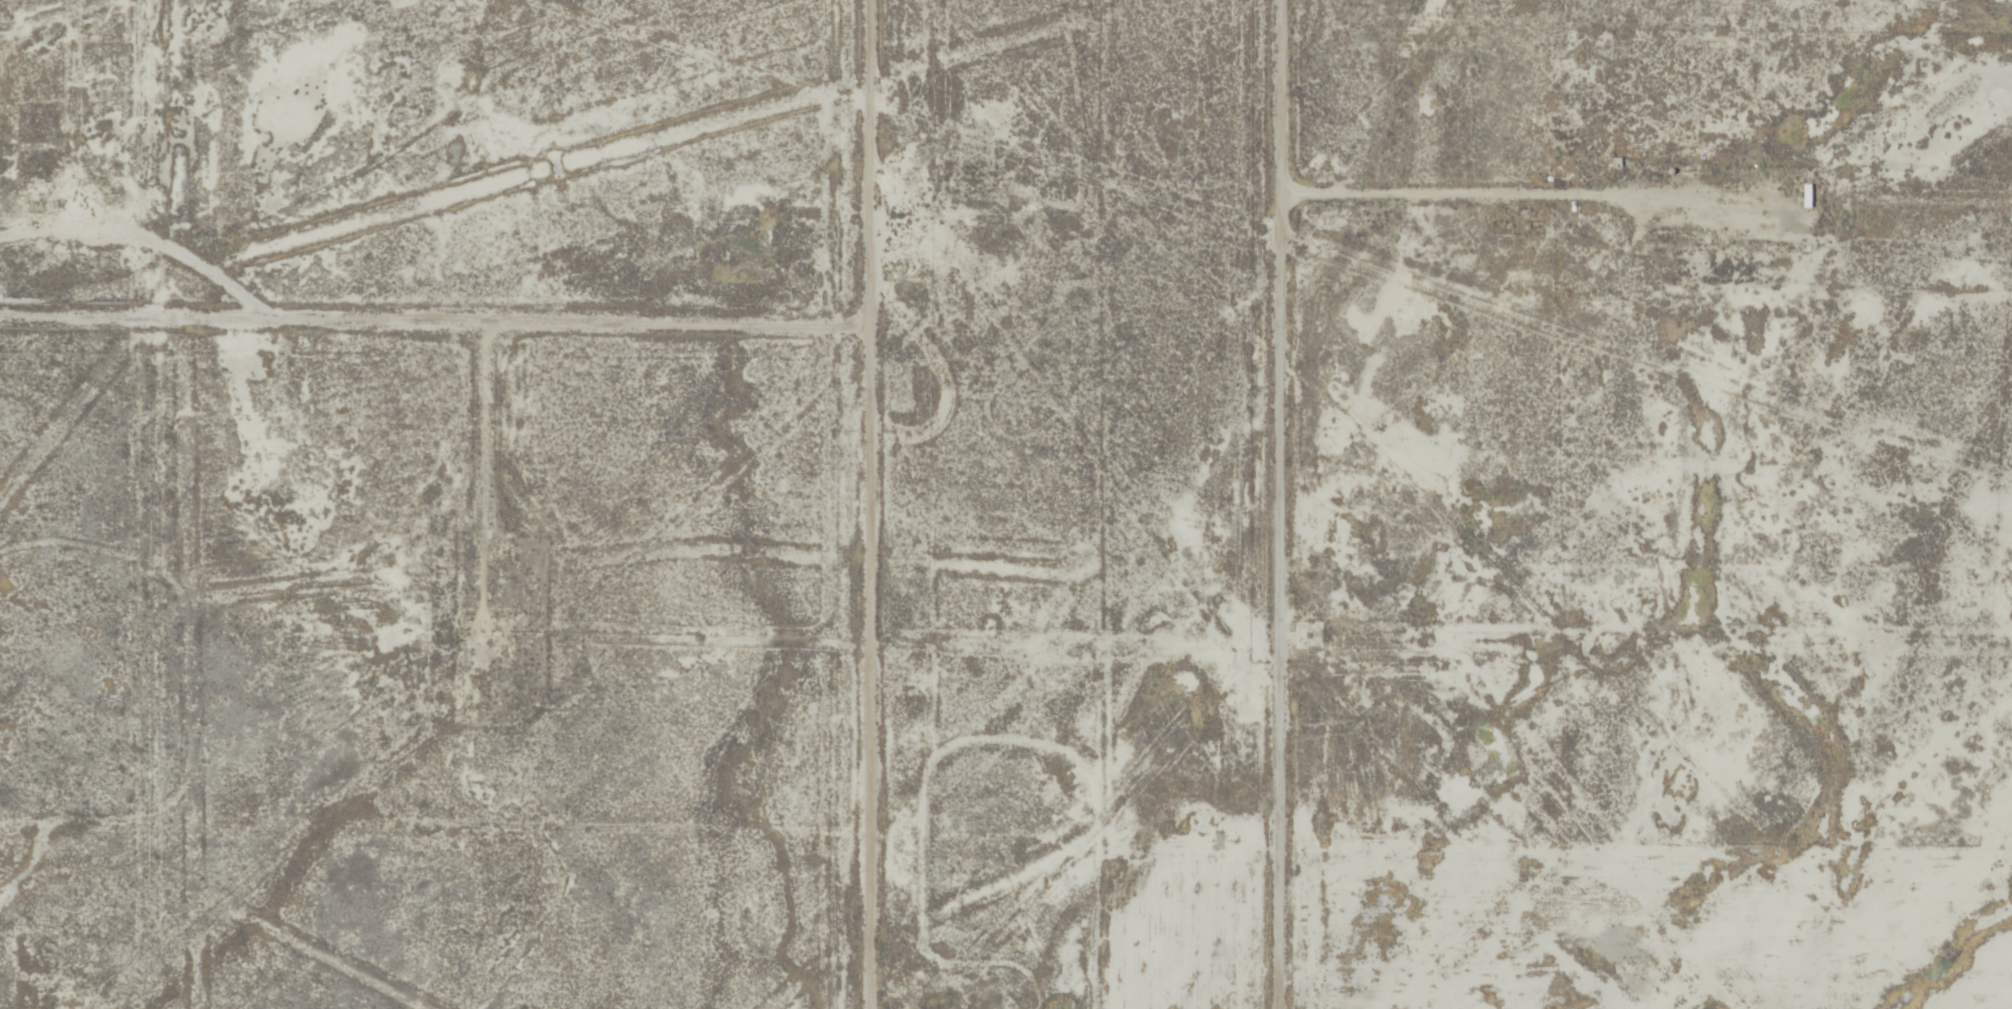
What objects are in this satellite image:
building: (1807, 196)
road: (1650, 204)
road: (434, 325)
road: (867, 504)
road: (1285, 504)

